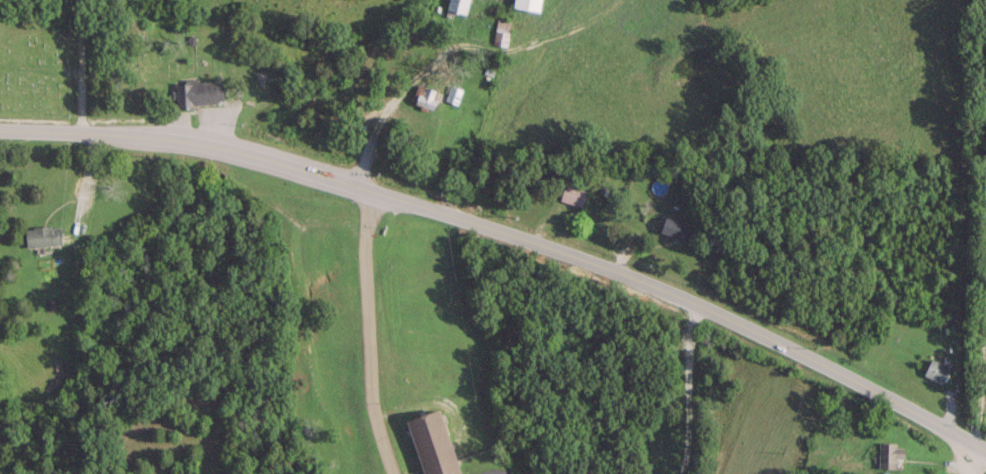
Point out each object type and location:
building: (527, 4)
building: (456, 5)
building: (500, 30)
park: (34, 63)
road: (79, 64)
building: (198, 91)
building: (424, 95)
building: (572, 194)
building: (676, 228)
road: (510, 231)
building: (41, 234)
road: (366, 333)
road: (980, 361)
building: (935, 370)
road: (686, 388)
building: (432, 443)
building: (889, 453)
road: (973, 459)

